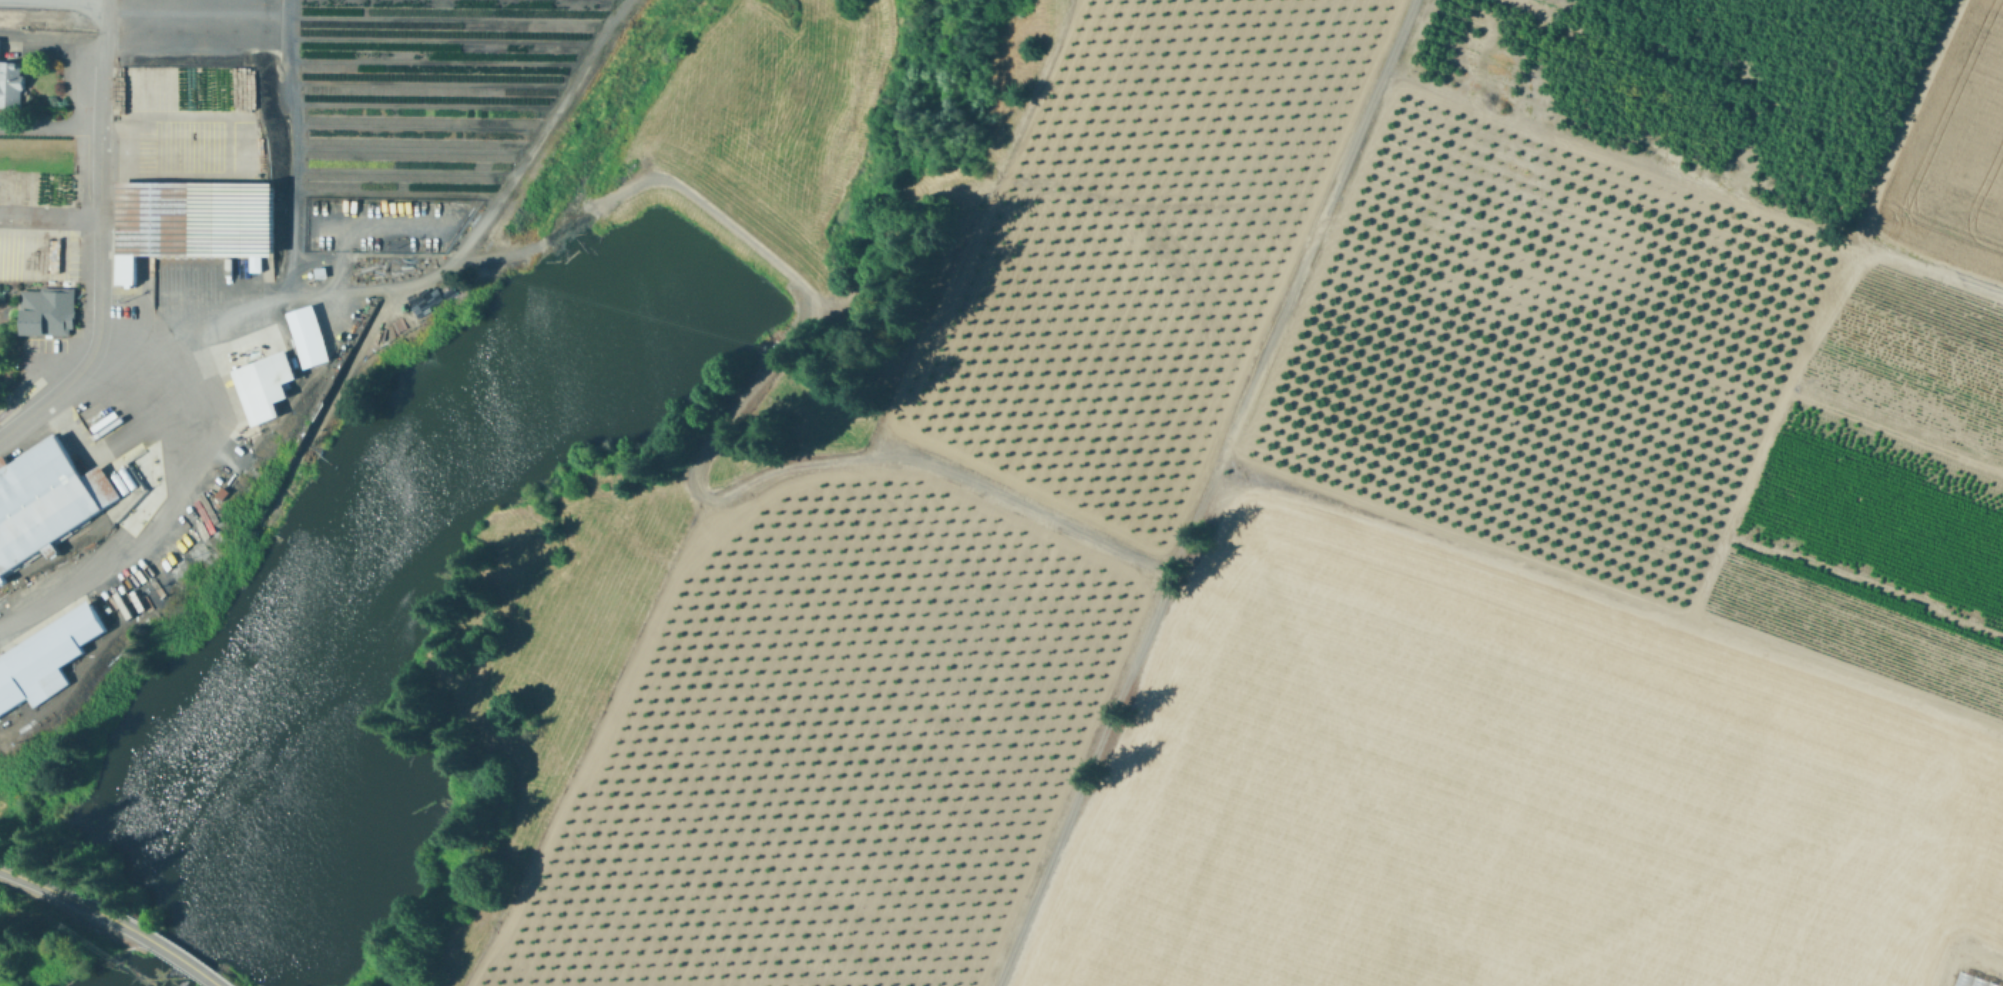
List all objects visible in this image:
road: (104, 1)
building: (12, 87)
building: (193, 224)
road: (100, 243)
dam: (720, 245)
building: (48, 314)
building: (312, 339)
building: (270, 389)
building: (48, 505)
crop: (1375, 540)
building: (49, 661)
road: (70, 900)
road: (180, 958)
road: (1996, 971)
building: (1965, 981)

